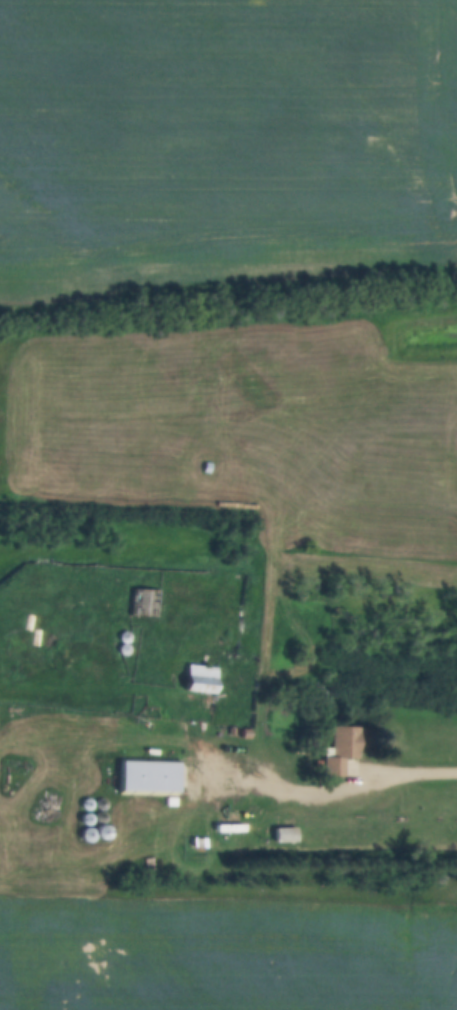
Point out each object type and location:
building: (32, 628)
building: (203, 677)
building: (342, 747)
building: (150, 774)
road: (325, 786)
building: (286, 832)

